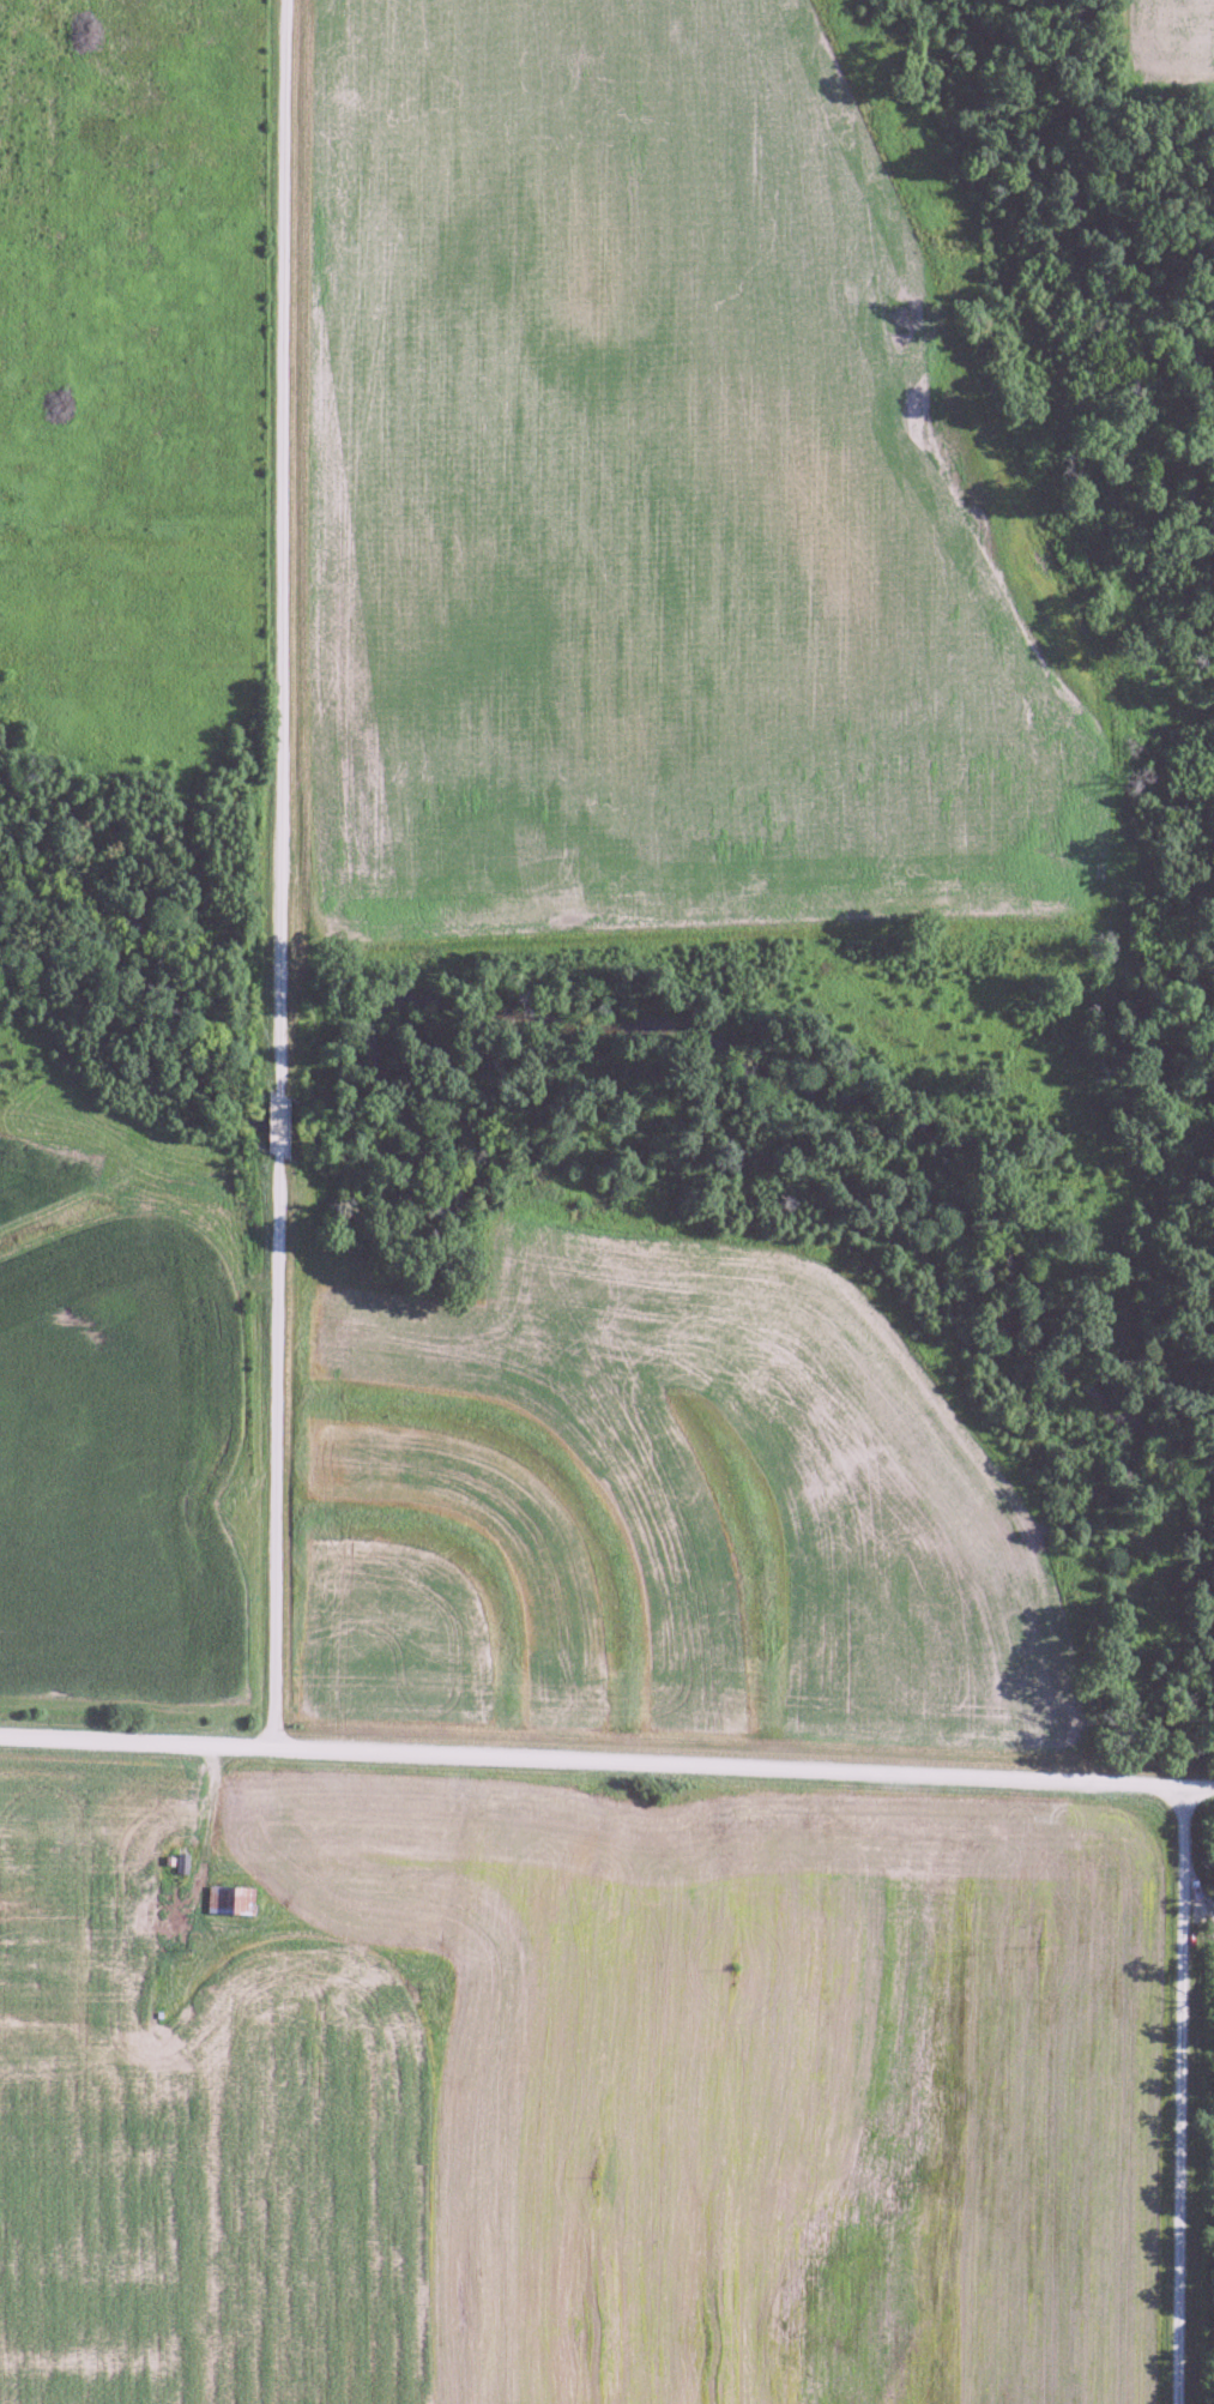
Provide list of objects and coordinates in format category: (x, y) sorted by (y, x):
road: (285, 873)
road: (606, 1760)
road: (211, 1816)
building: (229, 1898)
road: (1177, 2092)

